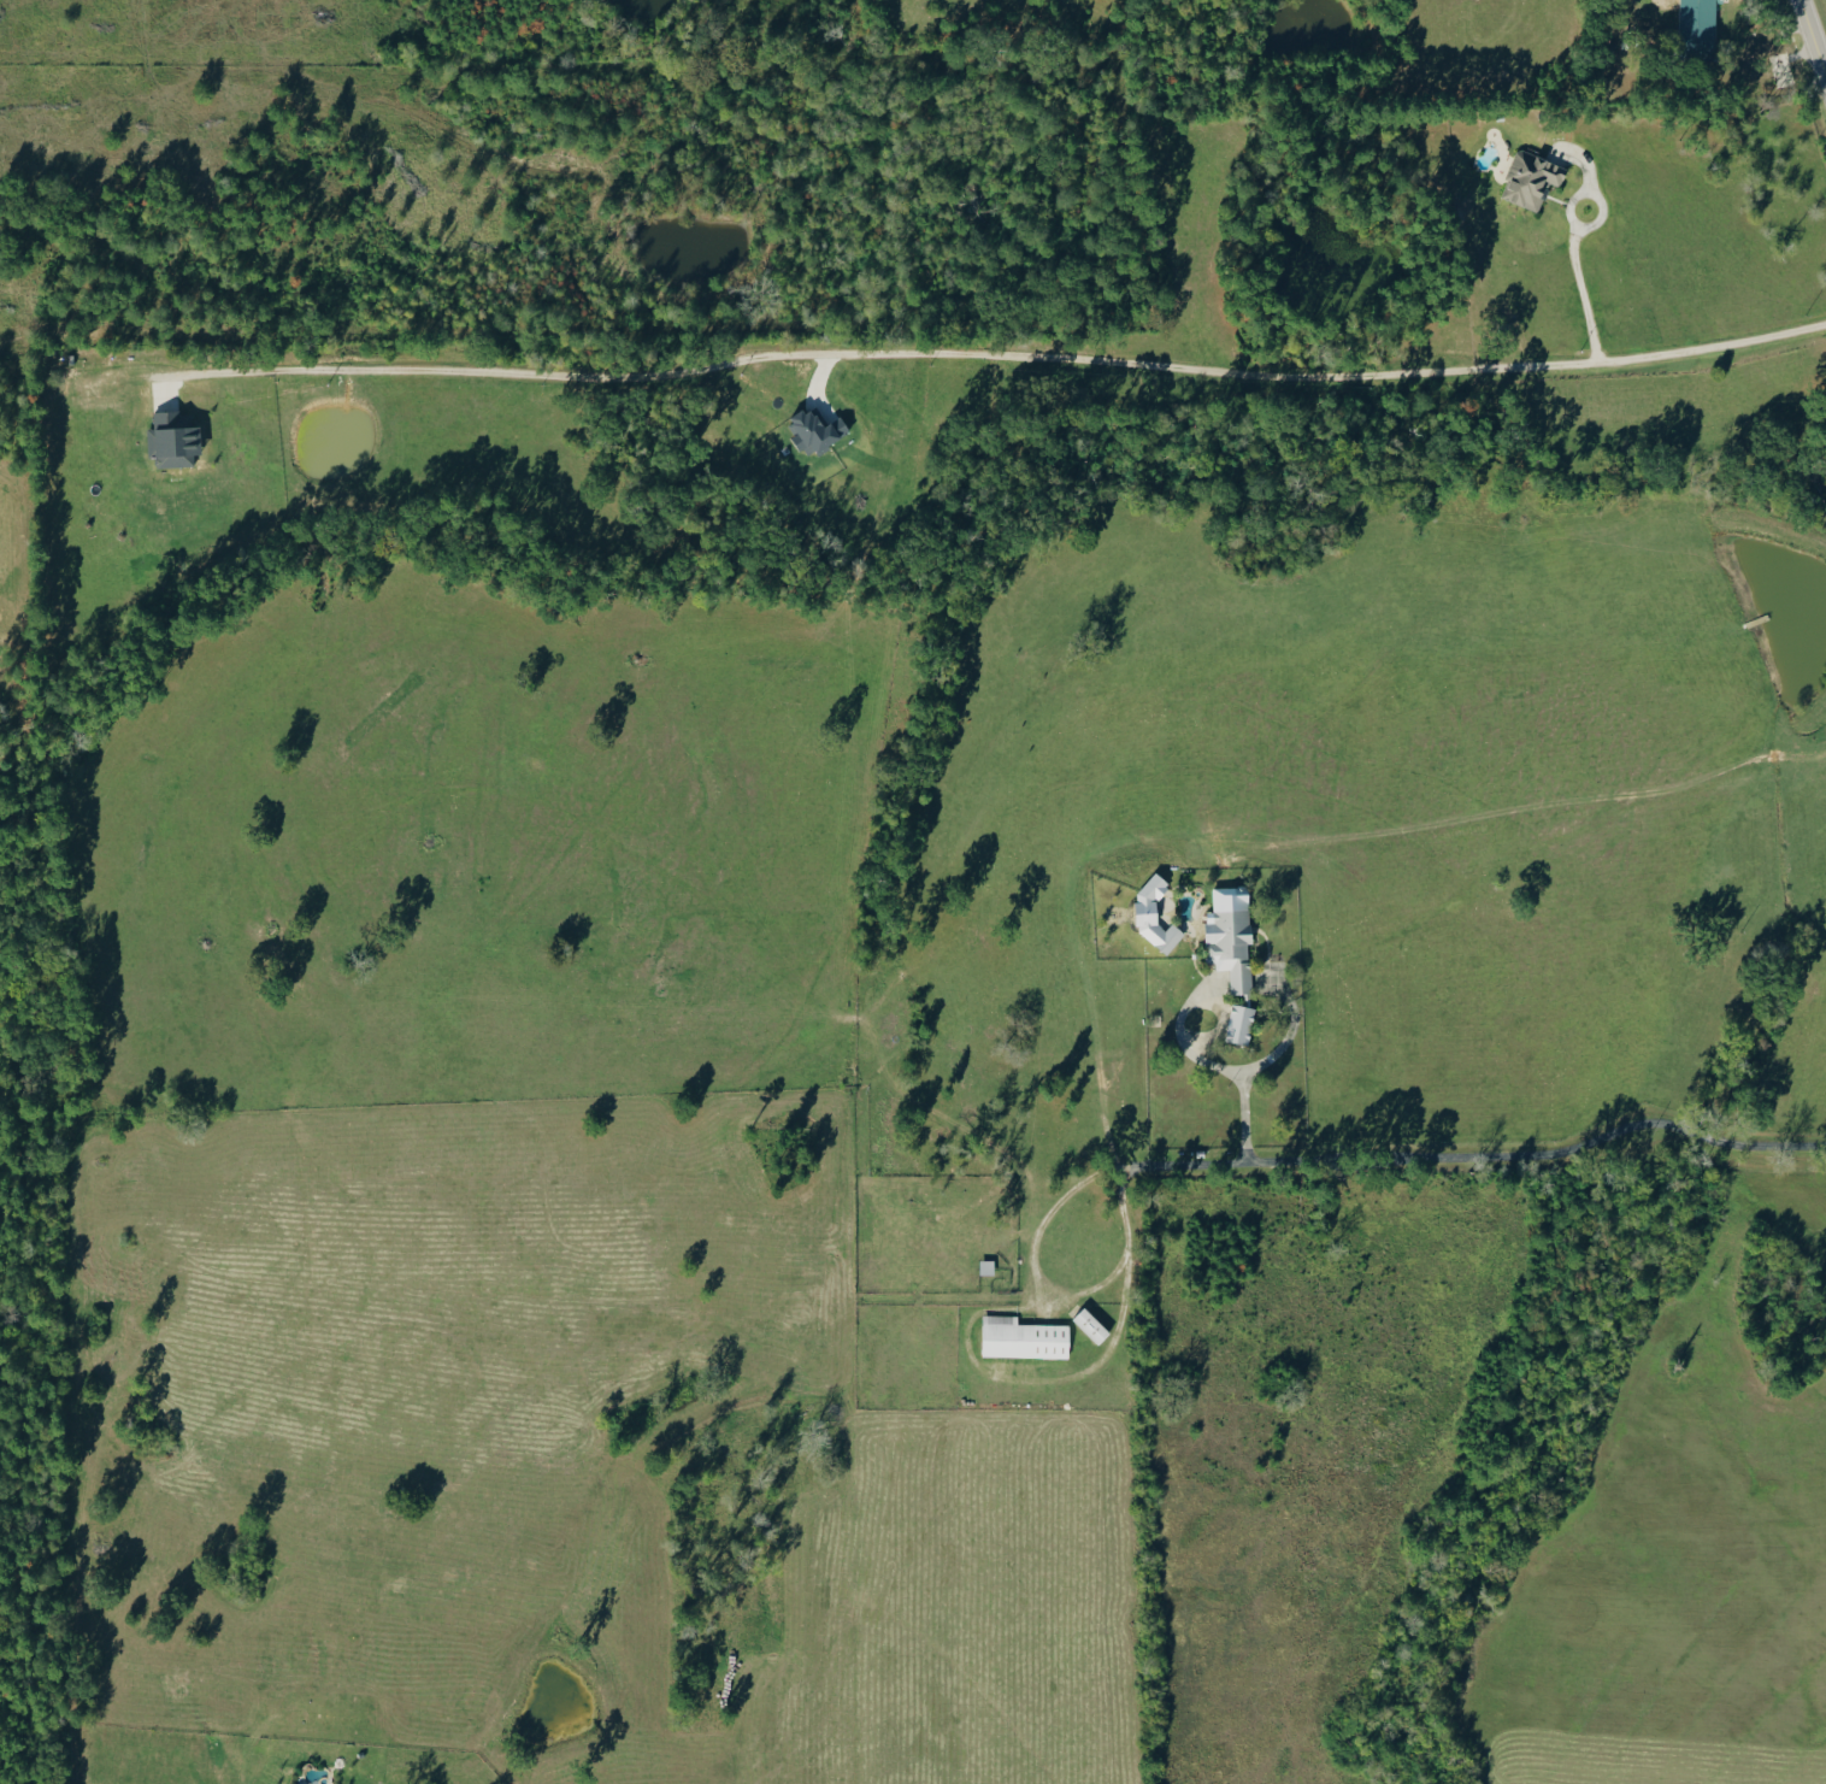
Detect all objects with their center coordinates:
building: (1694, 19)
road: (1812, 39)
building: (1530, 178)
road: (1586, 292)
road: (991, 358)
building: (813, 430)
building: (171, 438)
building: (1147, 901)
building: (1230, 948)
building: (1238, 1024)
road: (1184, 1035)
road: (1271, 1066)
road: (1483, 1160)
building: (984, 1268)
road: (1048, 1287)
building: (1089, 1326)
building: (1021, 1338)

